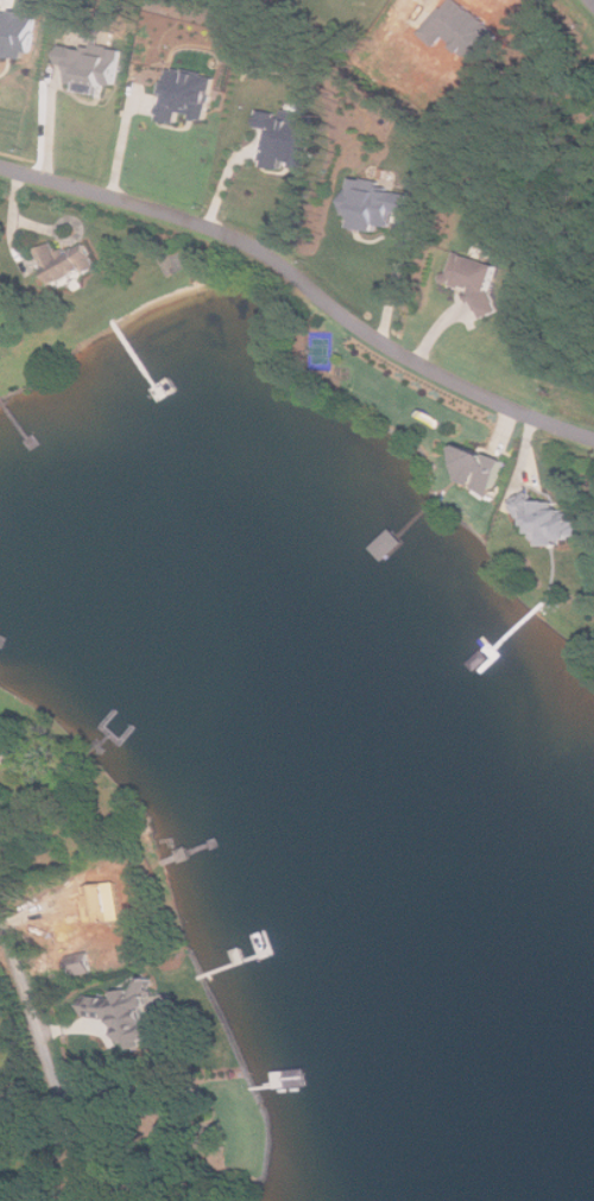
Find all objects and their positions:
building: (17, 31)
building: (91, 63)
building: (187, 93)
building: (287, 135)
building: (377, 202)
building: (65, 263)
building: (476, 277)
road: (304, 283)
road: (396, 283)
building: (487, 468)
building: (550, 520)
building: (391, 545)
building: (5, 750)
building: (185, 855)
building: (107, 914)
building: (82, 965)
building: (125, 985)
building: (129, 1012)
road: (51, 1055)
building: (176, 1132)
building: (173, 1200)

